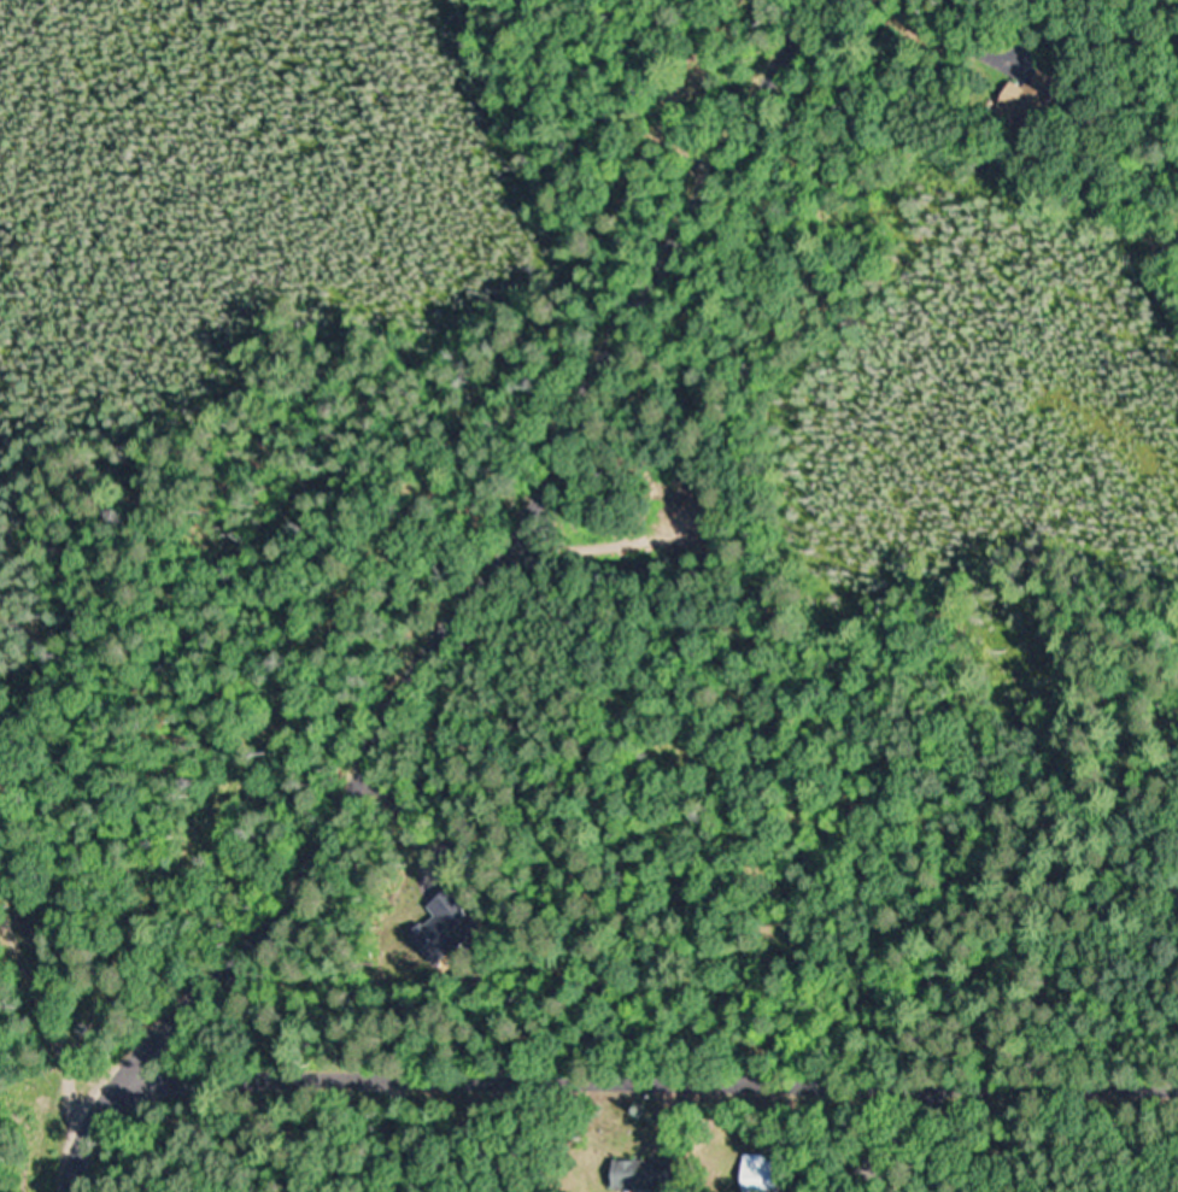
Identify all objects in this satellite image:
building: (1022, 100)
road: (459, 611)
road: (675, 822)
building: (23, 926)
road: (650, 1079)
building: (766, 1173)
building: (646, 1175)

